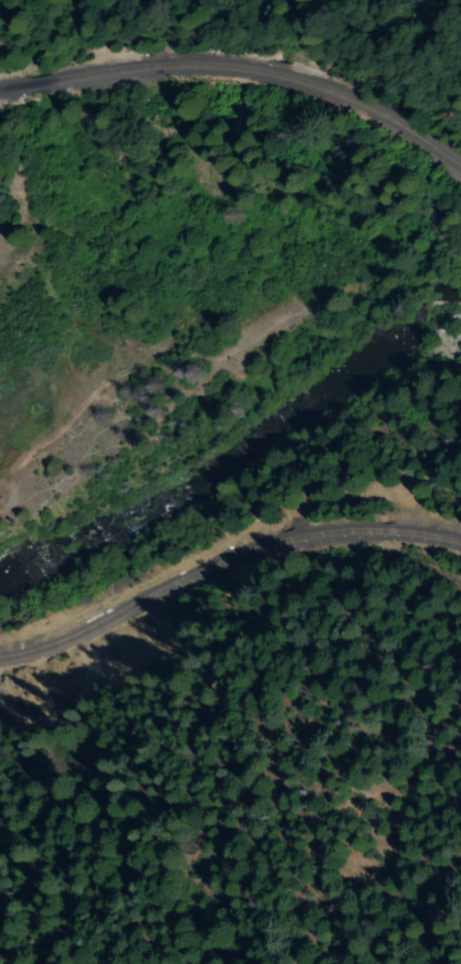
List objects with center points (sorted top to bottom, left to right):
railway: (241, 70)
road: (177, 391)
river: (227, 435)
railway: (317, 534)
railway: (93, 626)

